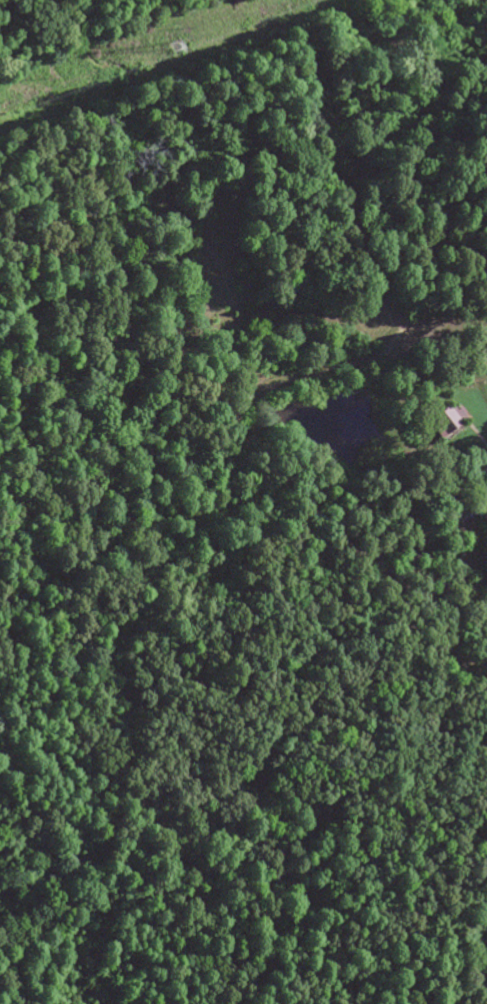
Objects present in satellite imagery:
building: (444, 420)
building: (484, 519)
road: (397, 595)

